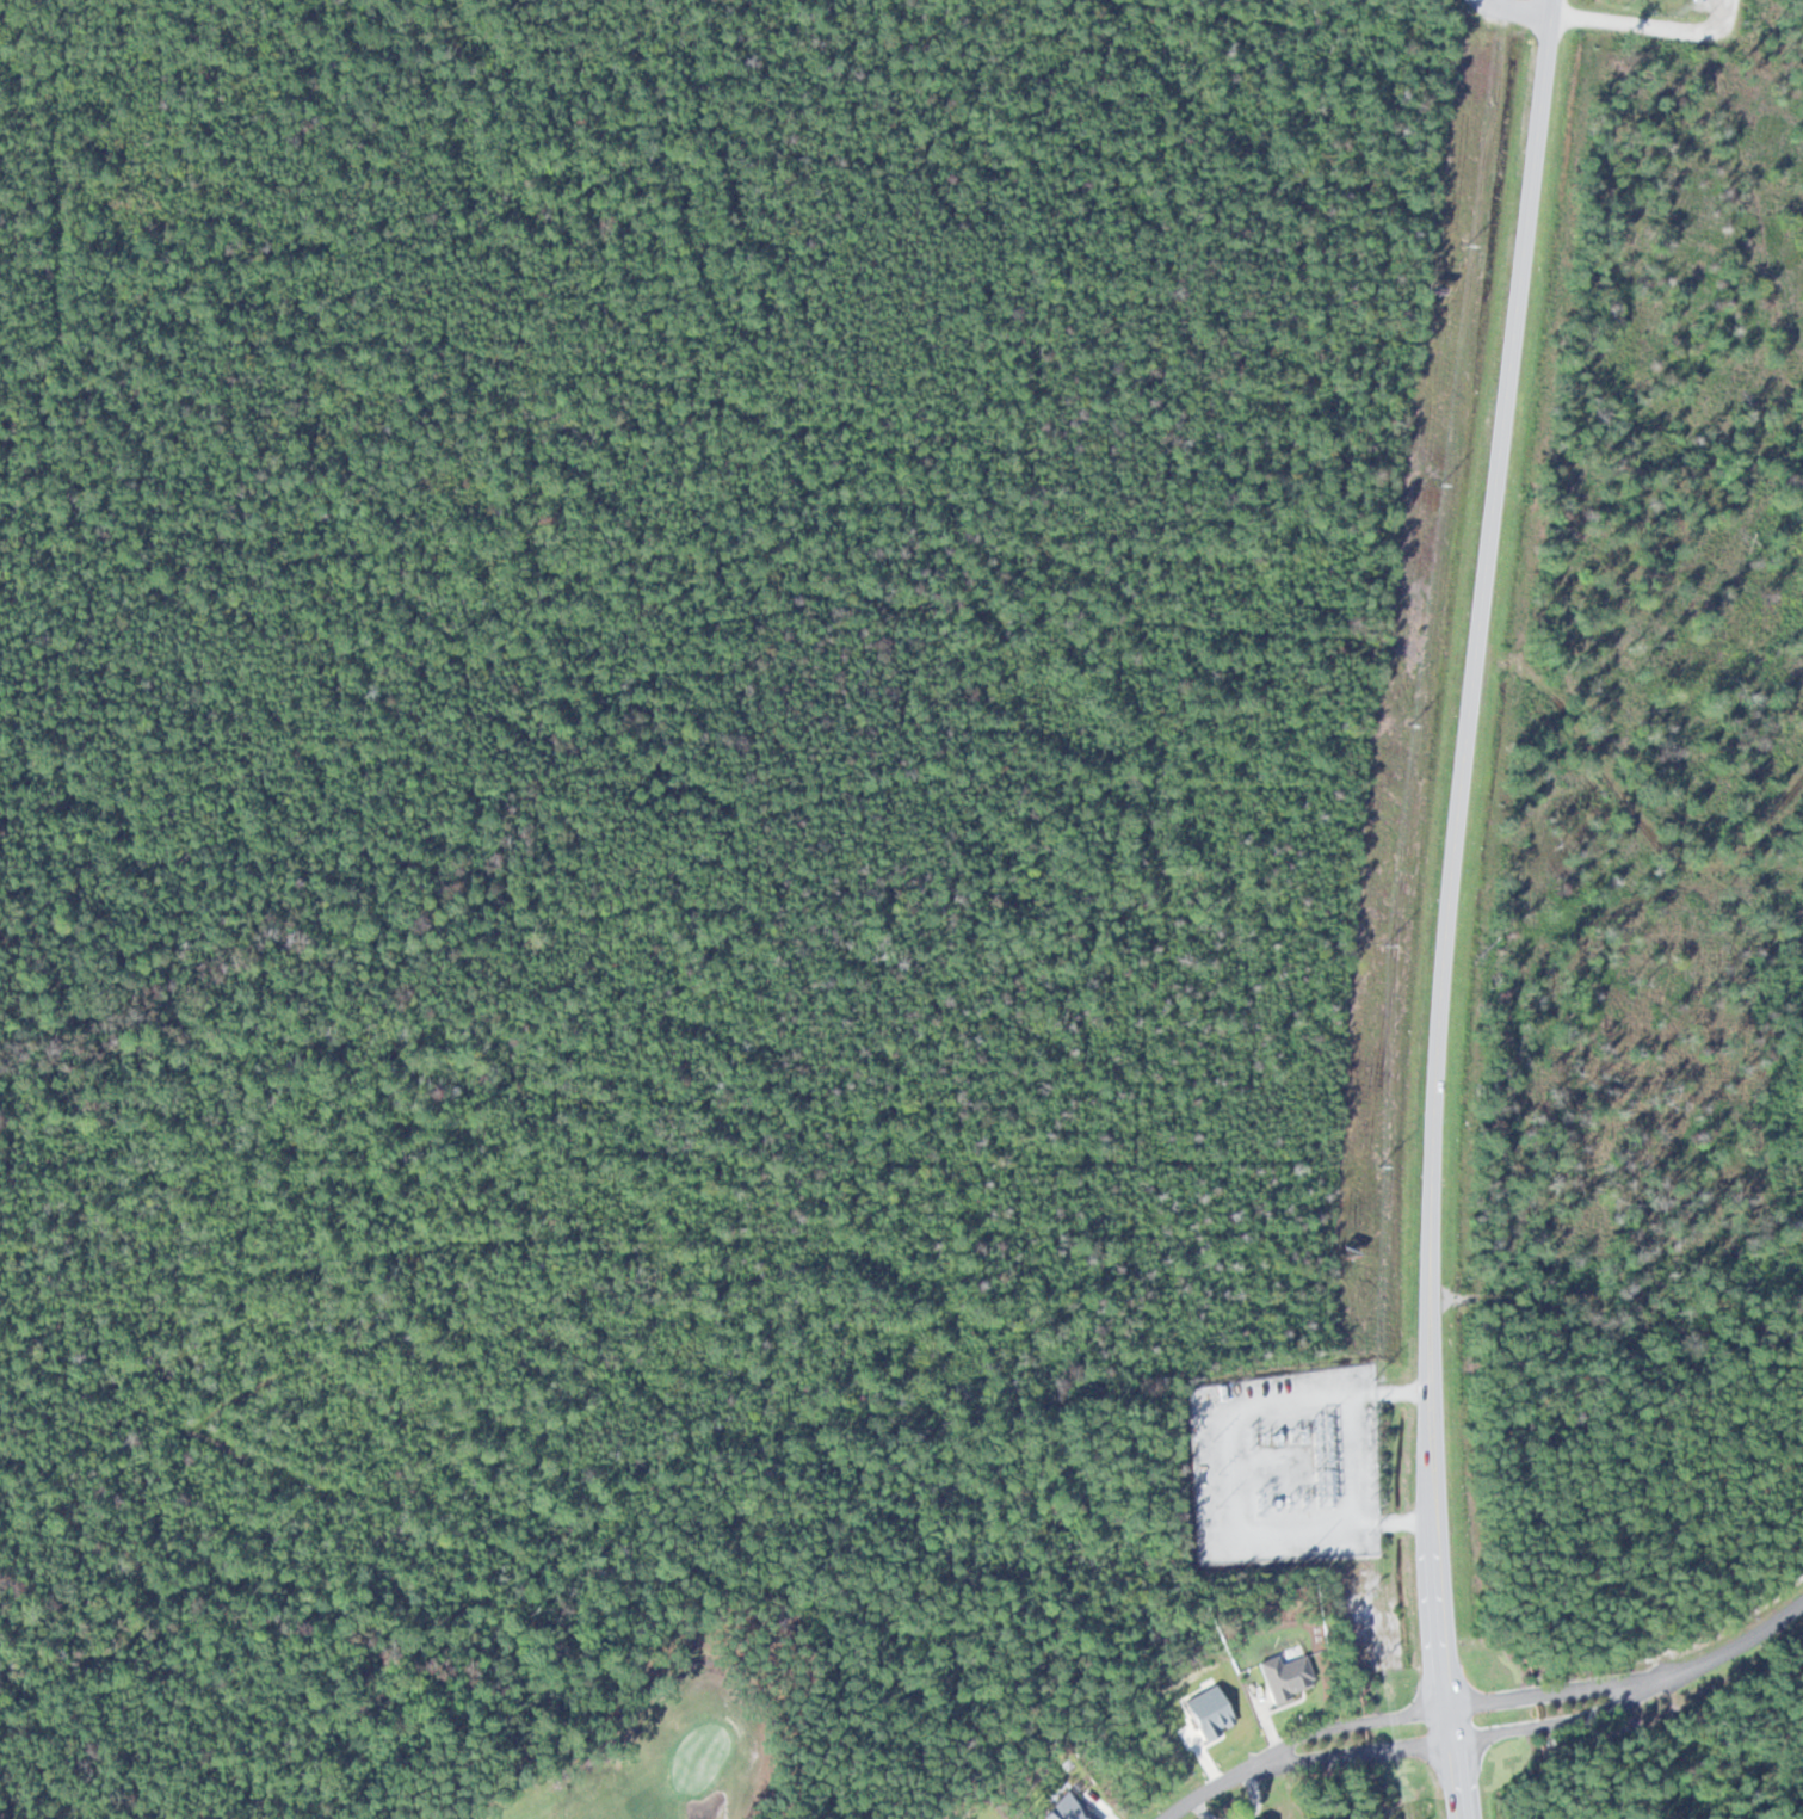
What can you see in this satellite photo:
power tower: (1462, 235)
power tower: (1432, 474)
power tower: (1402, 717)
road: (1447, 907)
power tower: (1378, 939)
power tower: (1367, 1163)
power substation: (1280, 1461)
road: (1630, 1677)
road: (1301, 1751)
building: (1258, 1818)

